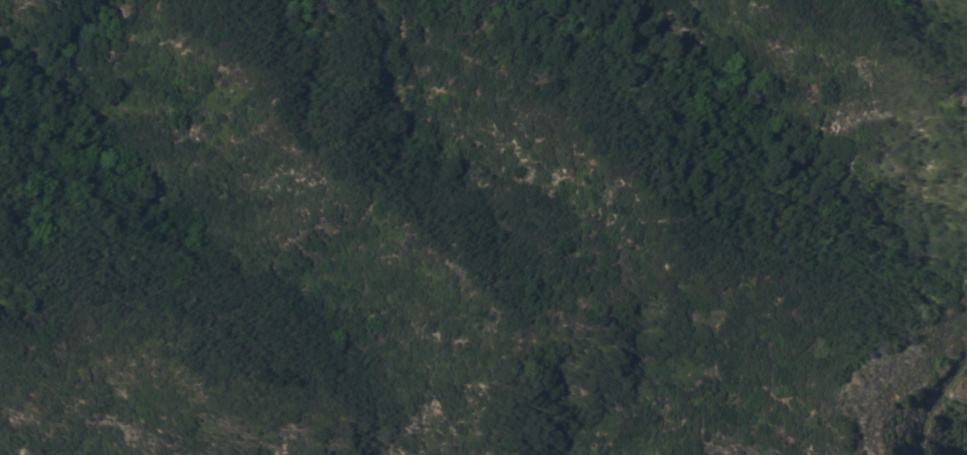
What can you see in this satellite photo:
road: (965, 362)
road: (929, 400)

